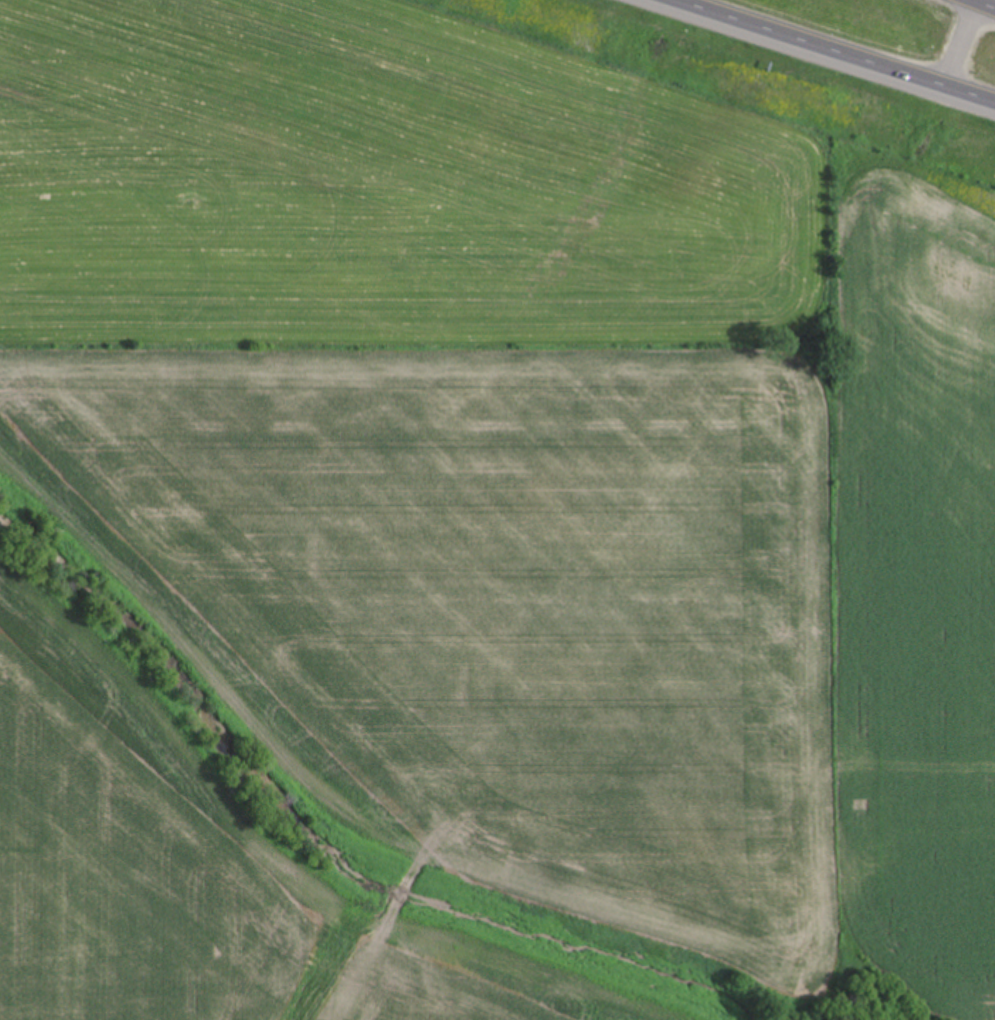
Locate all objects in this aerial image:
road: (982, 4)
road: (963, 45)
road: (835, 51)
river: (319, 837)

